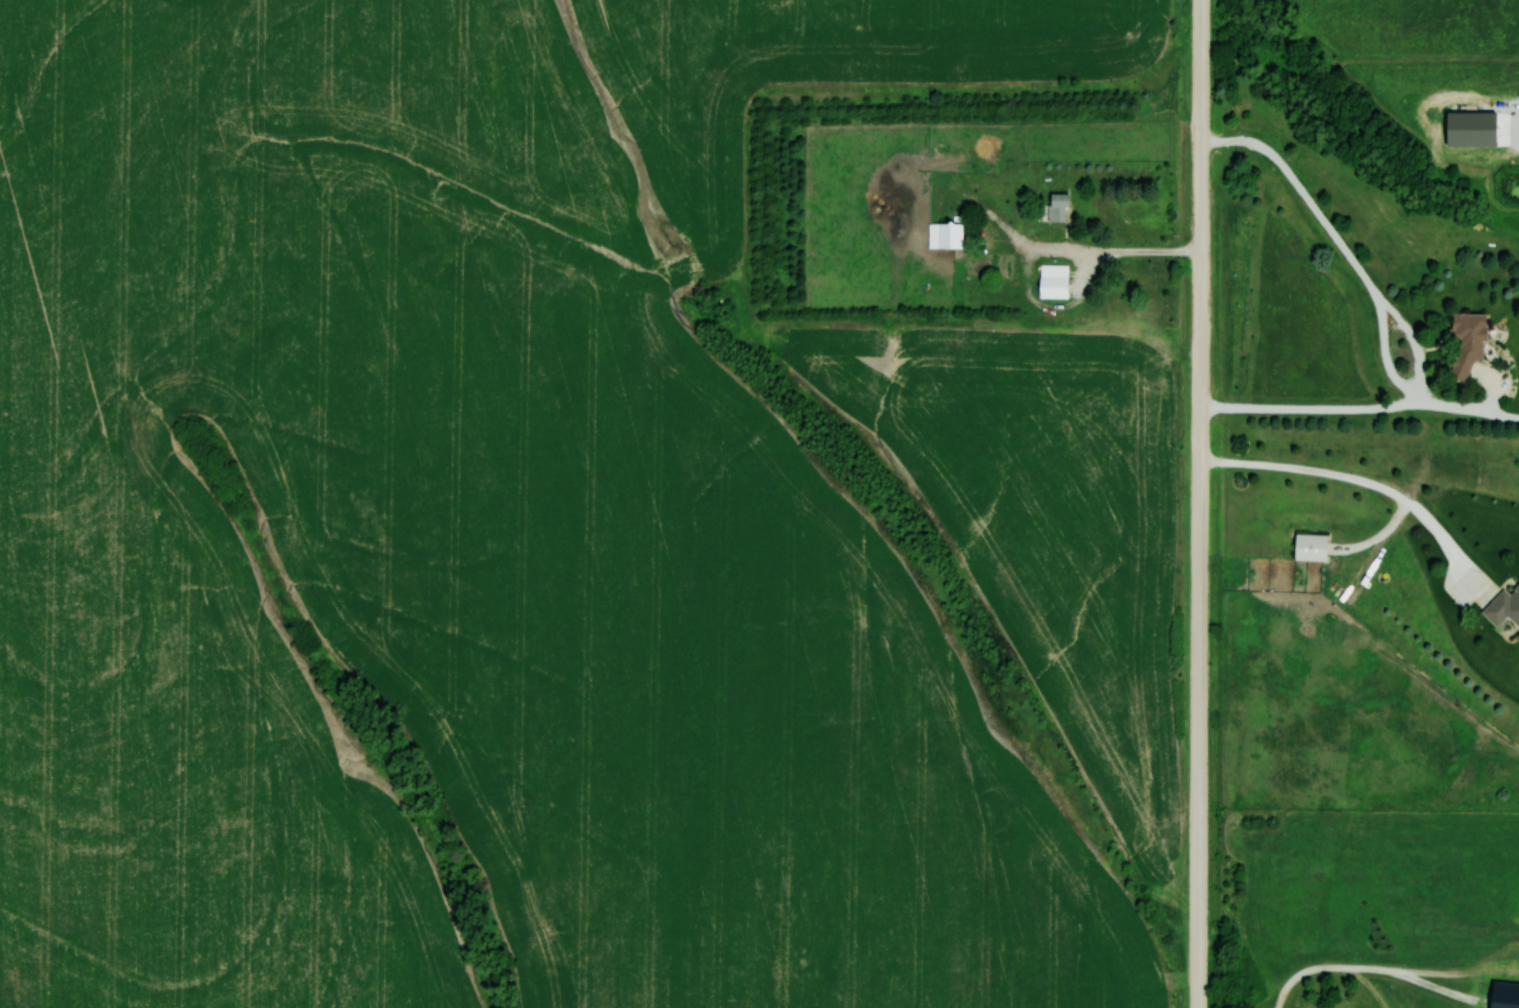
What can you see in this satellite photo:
building: (1055, 207)
building: (943, 235)
road: (1040, 250)
building: (1051, 281)
road: (1384, 332)
building: (1464, 340)
road: (1417, 342)
road: (1463, 408)
road: (1368, 483)
road: (1200, 503)
building: (1307, 546)
building: (1503, 606)

